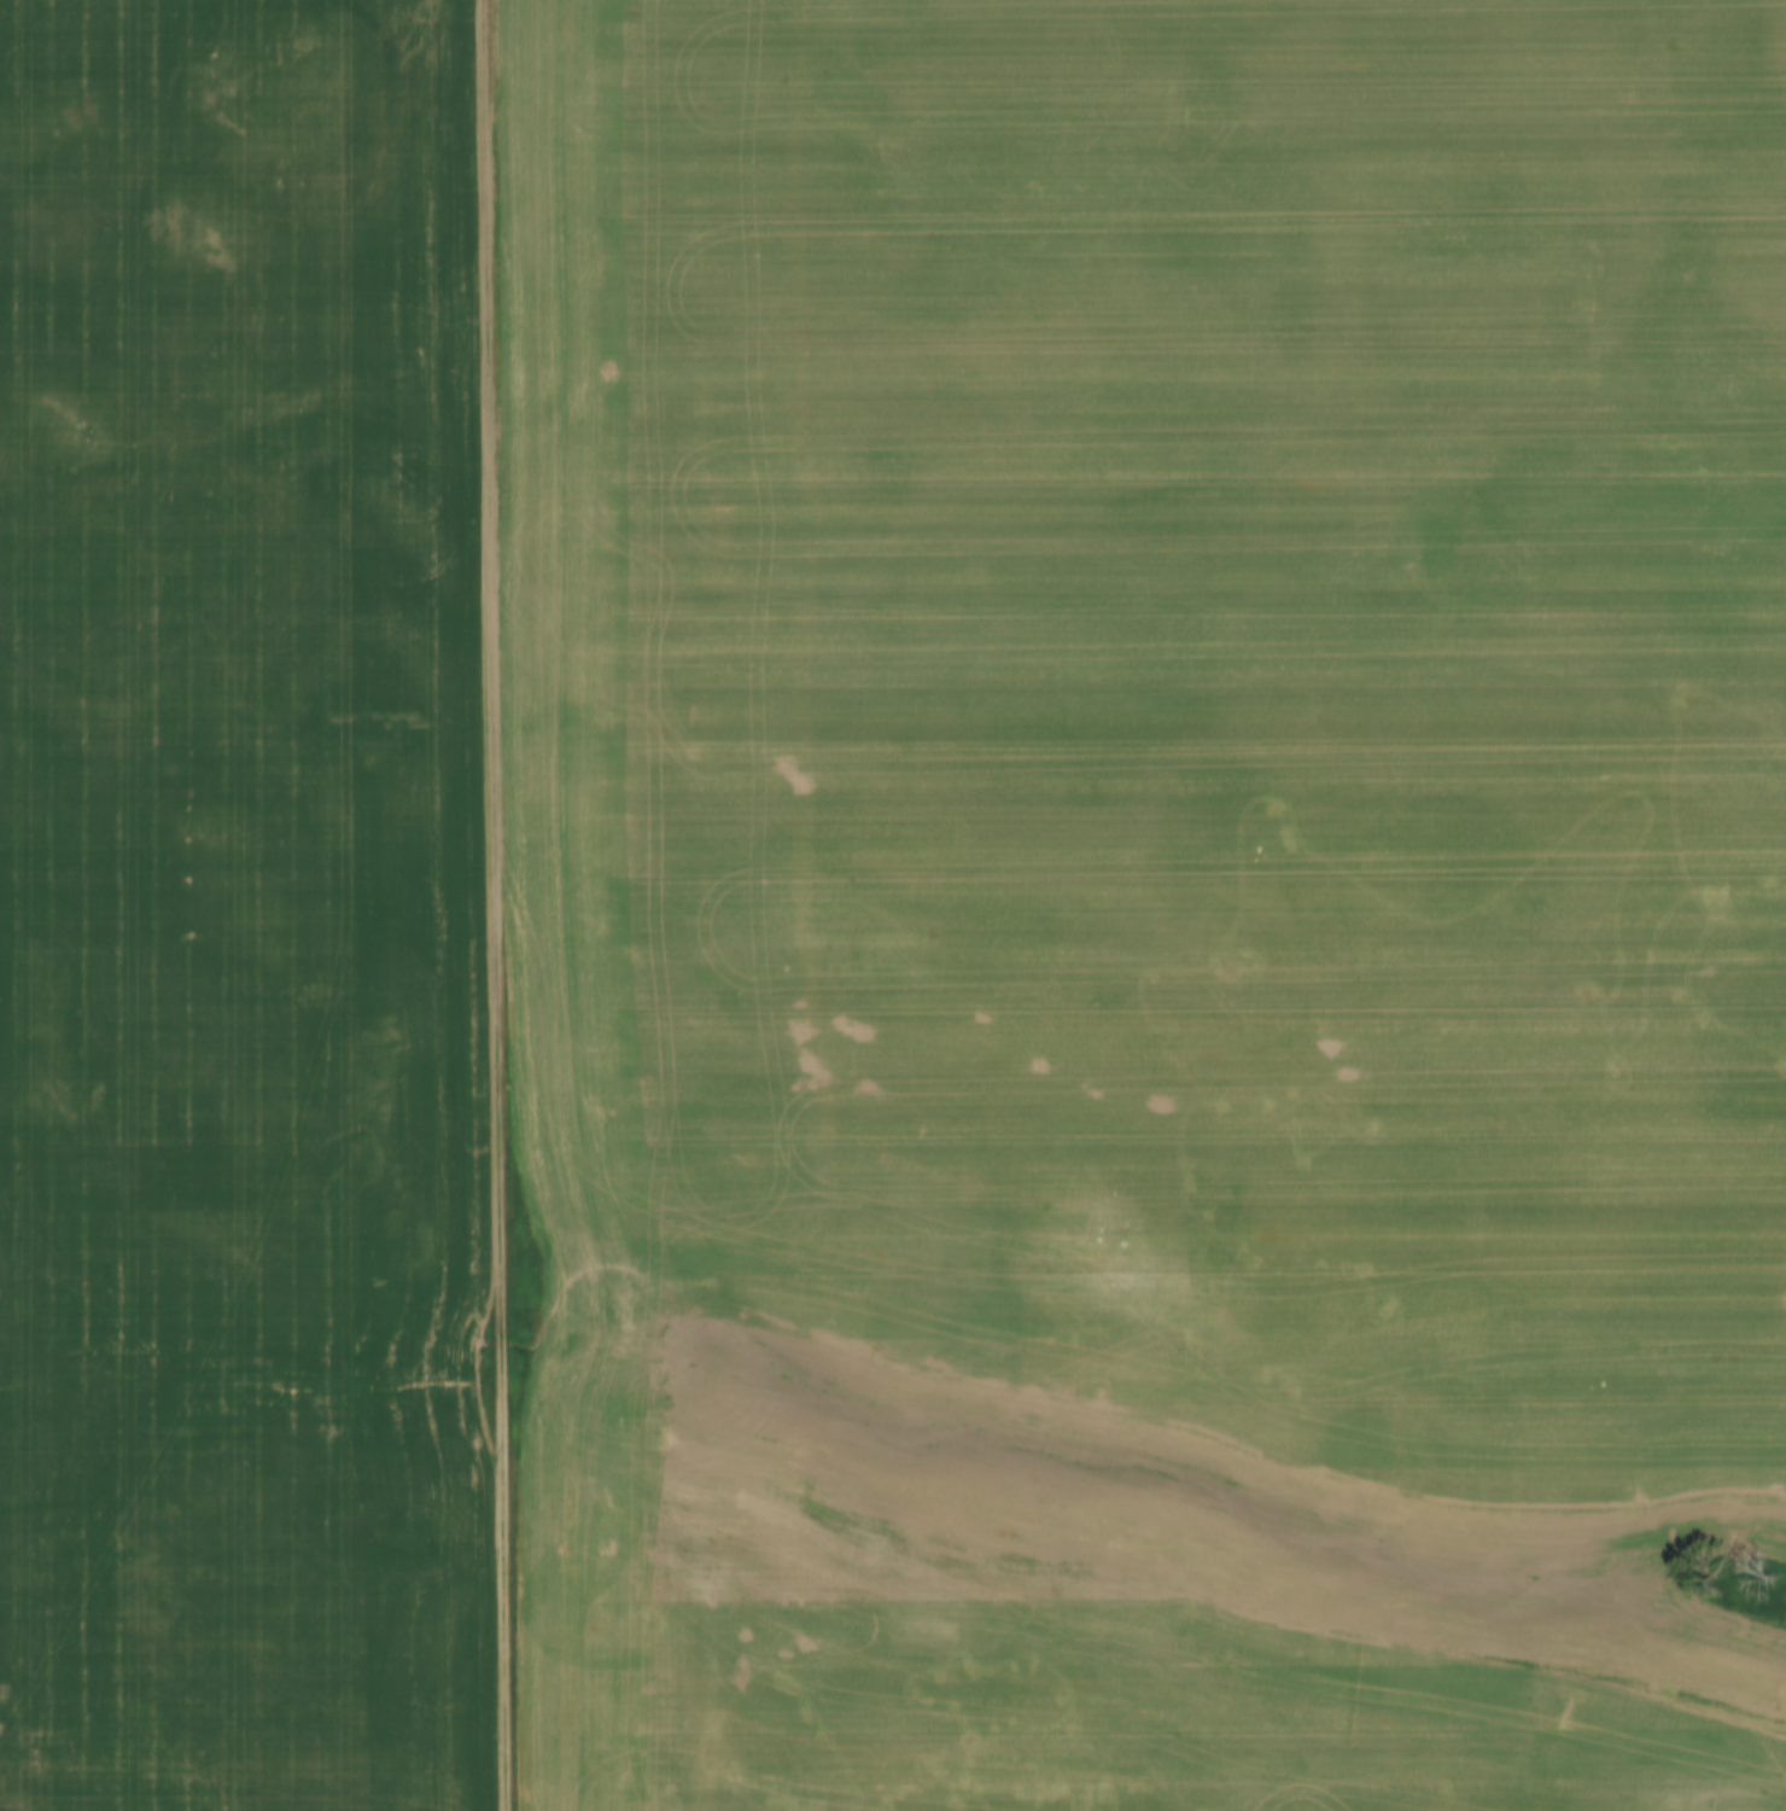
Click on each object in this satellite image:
road: (497, 904)

